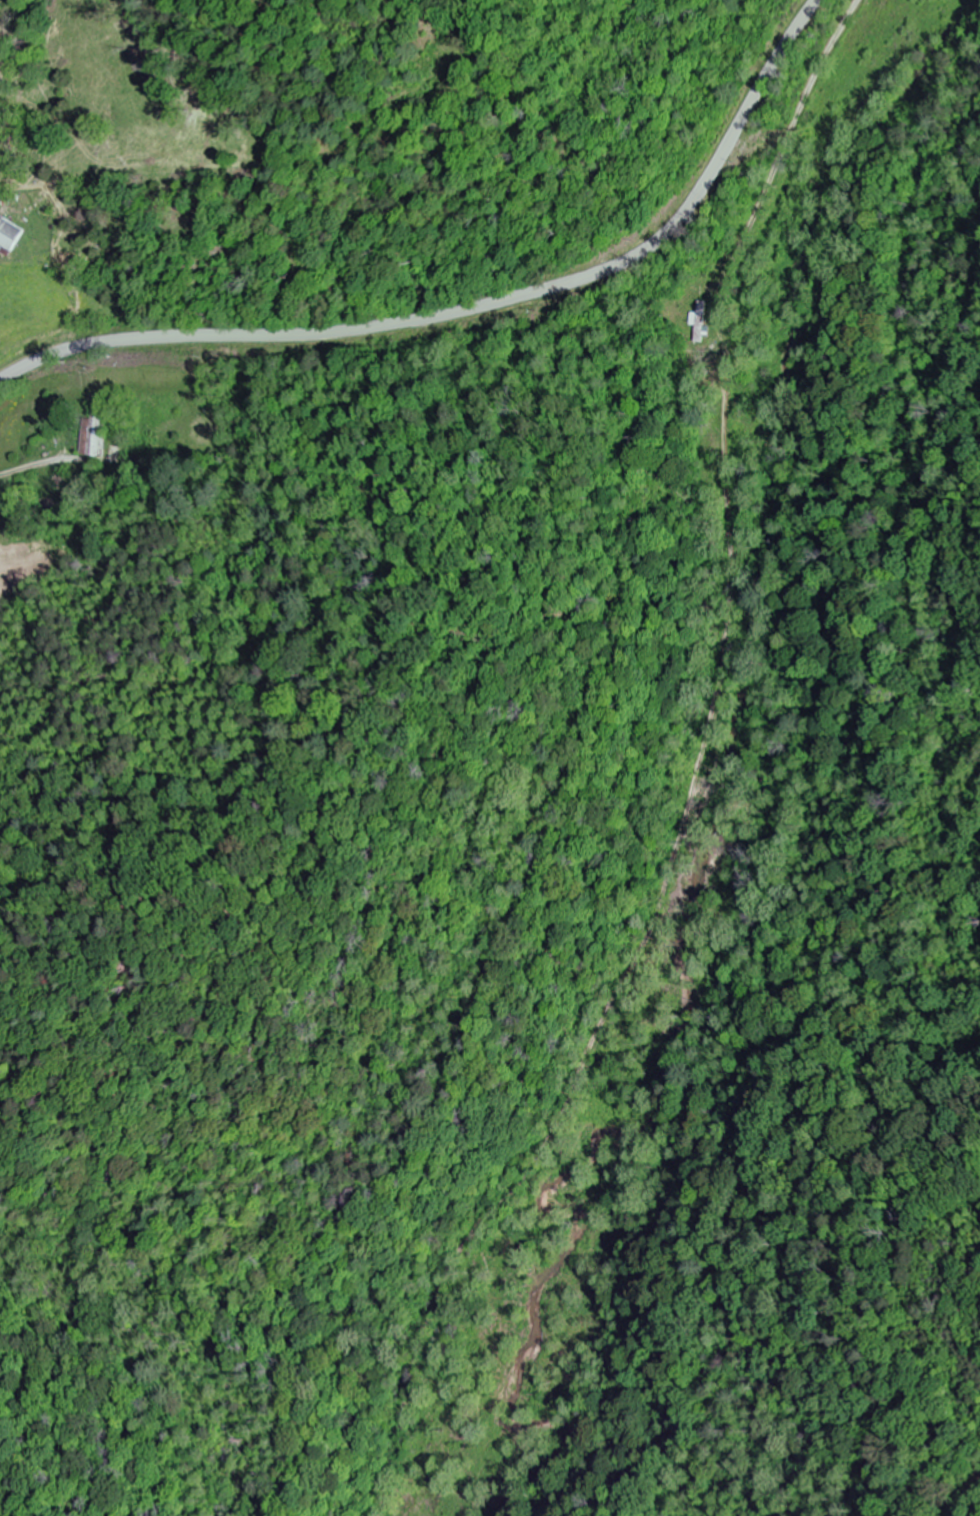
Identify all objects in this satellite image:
building: (11, 237)
road: (475, 312)
building: (94, 439)

